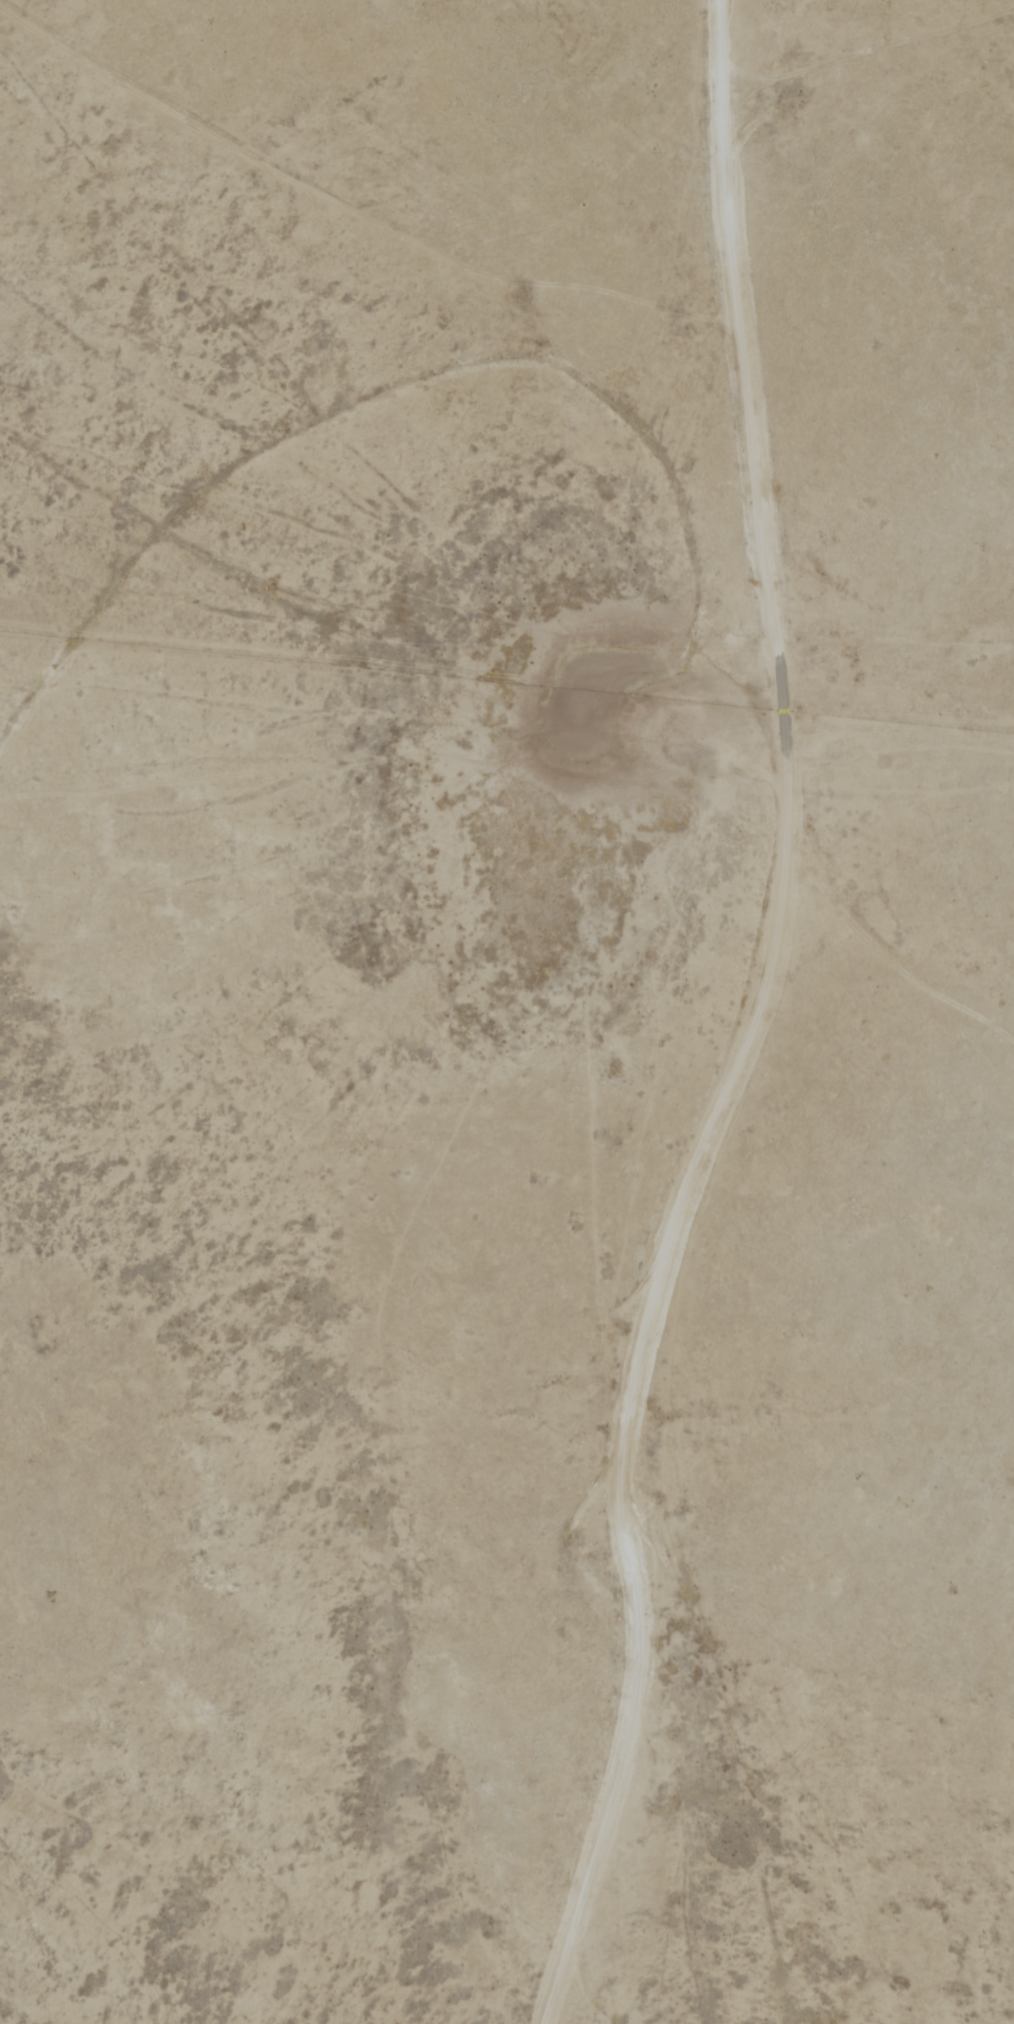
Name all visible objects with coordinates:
road: (751, 1025)

